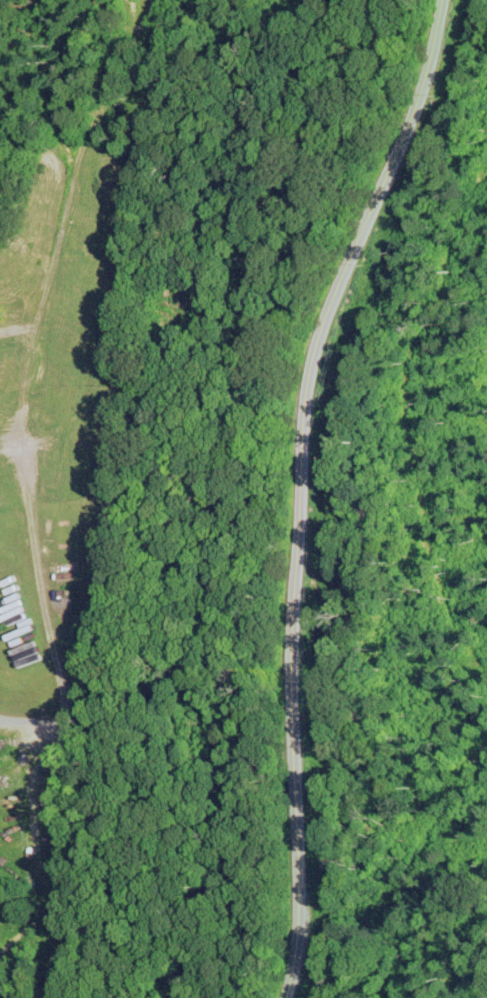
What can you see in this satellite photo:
road: (311, 491)
road: (112, 832)

